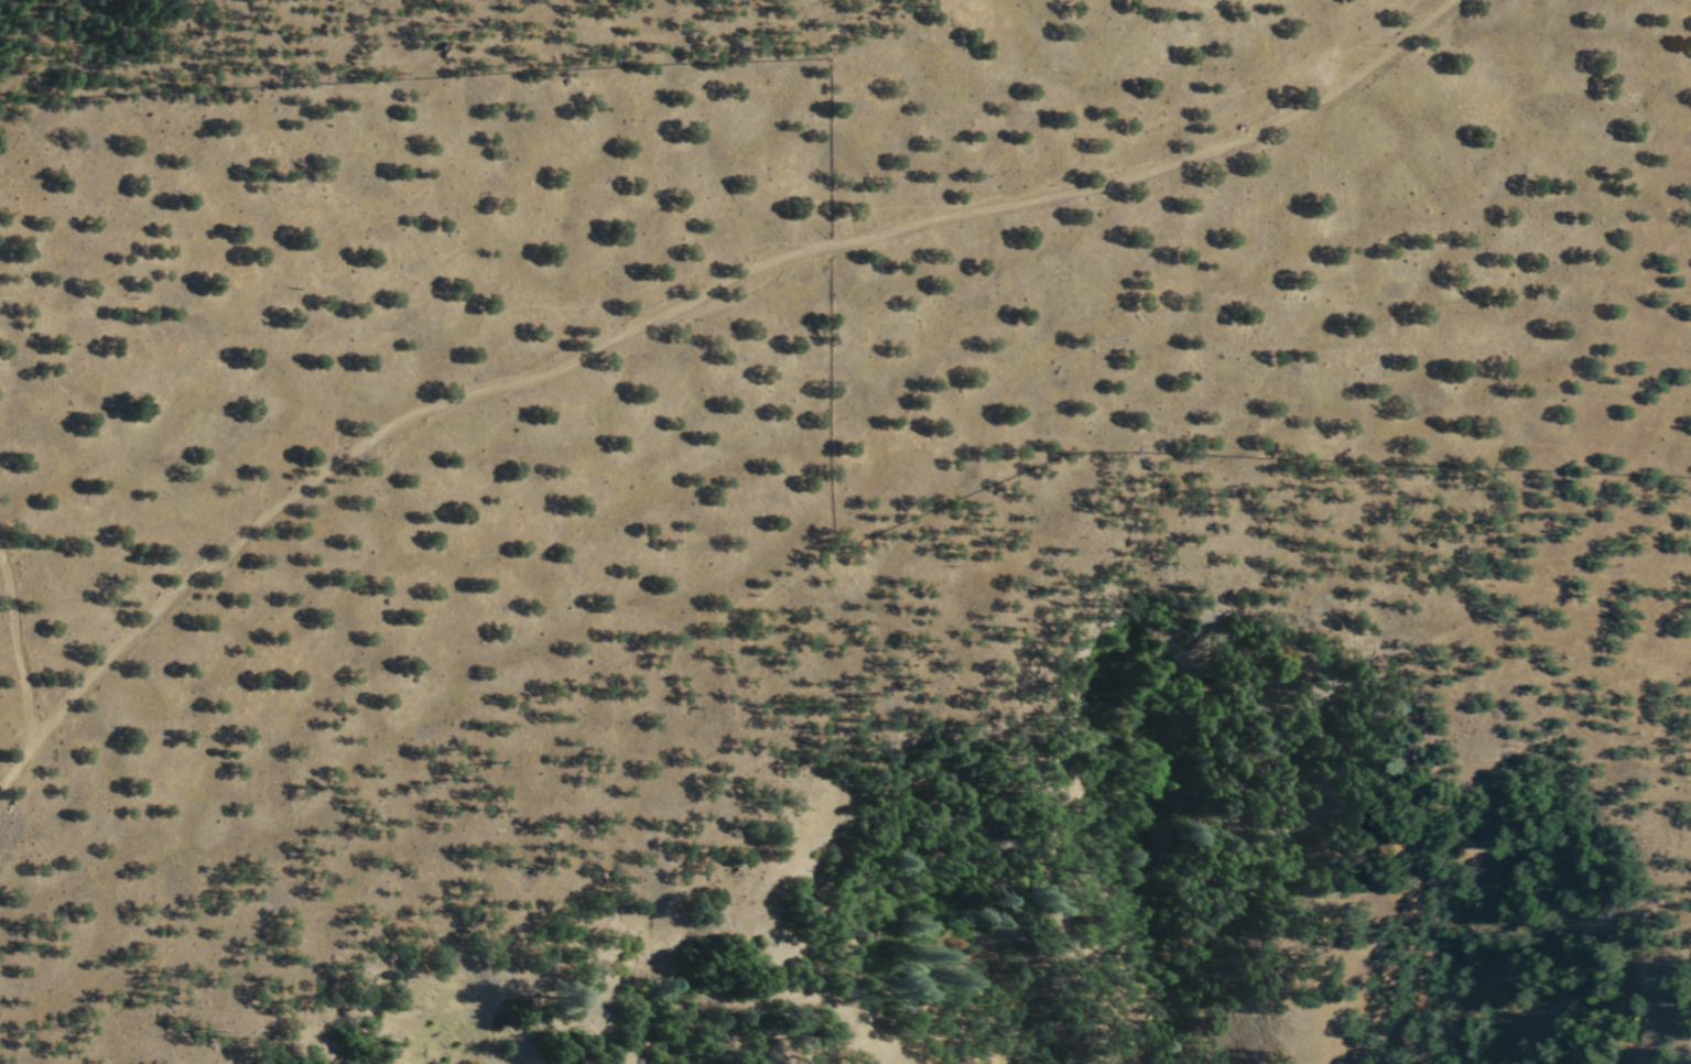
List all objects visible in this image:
road: (682, 300)
road: (18, 643)
road: (7, 779)

